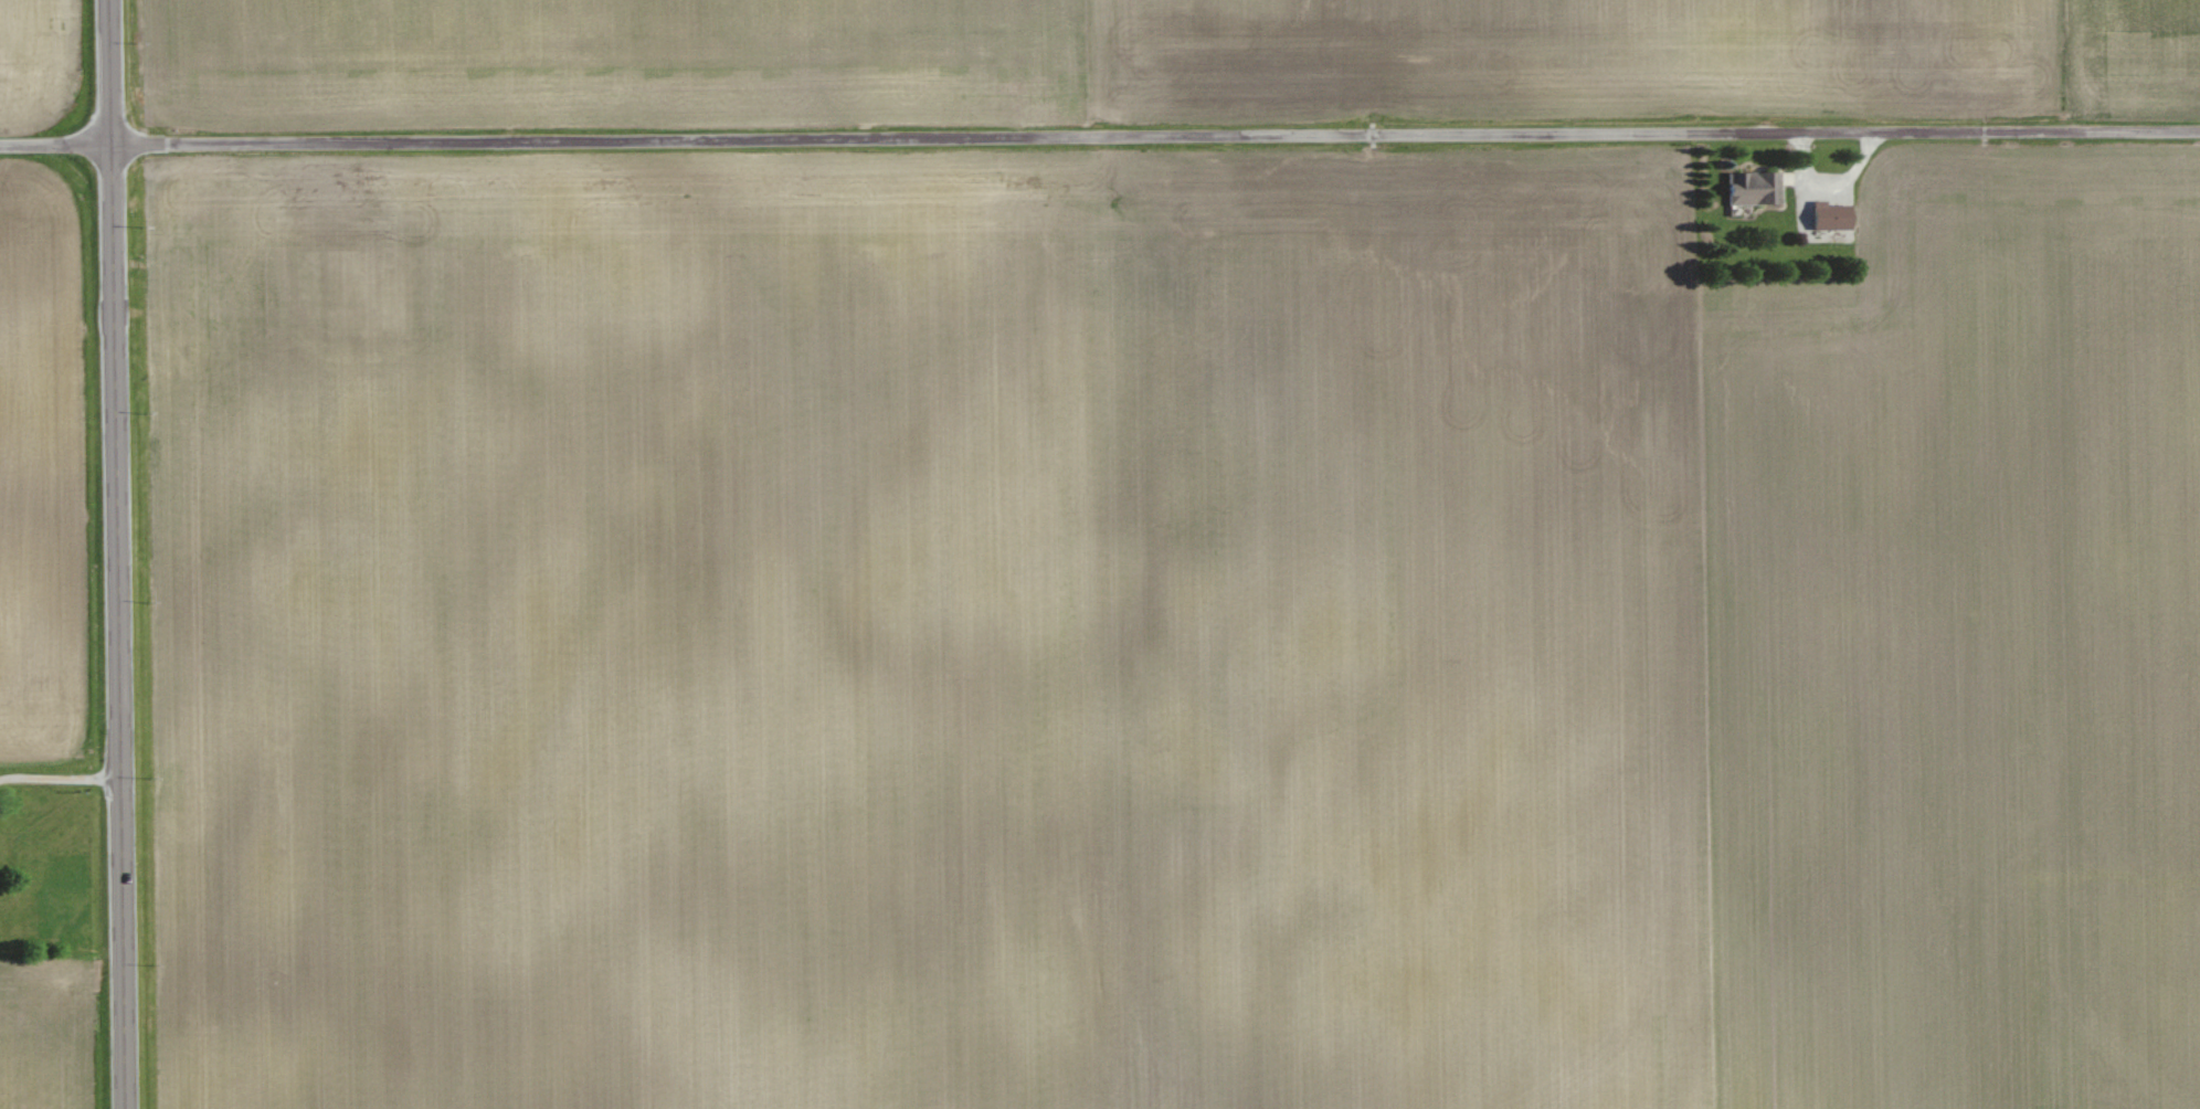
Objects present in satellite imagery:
road: (1100, 137)
building: (1755, 184)
road: (117, 553)

